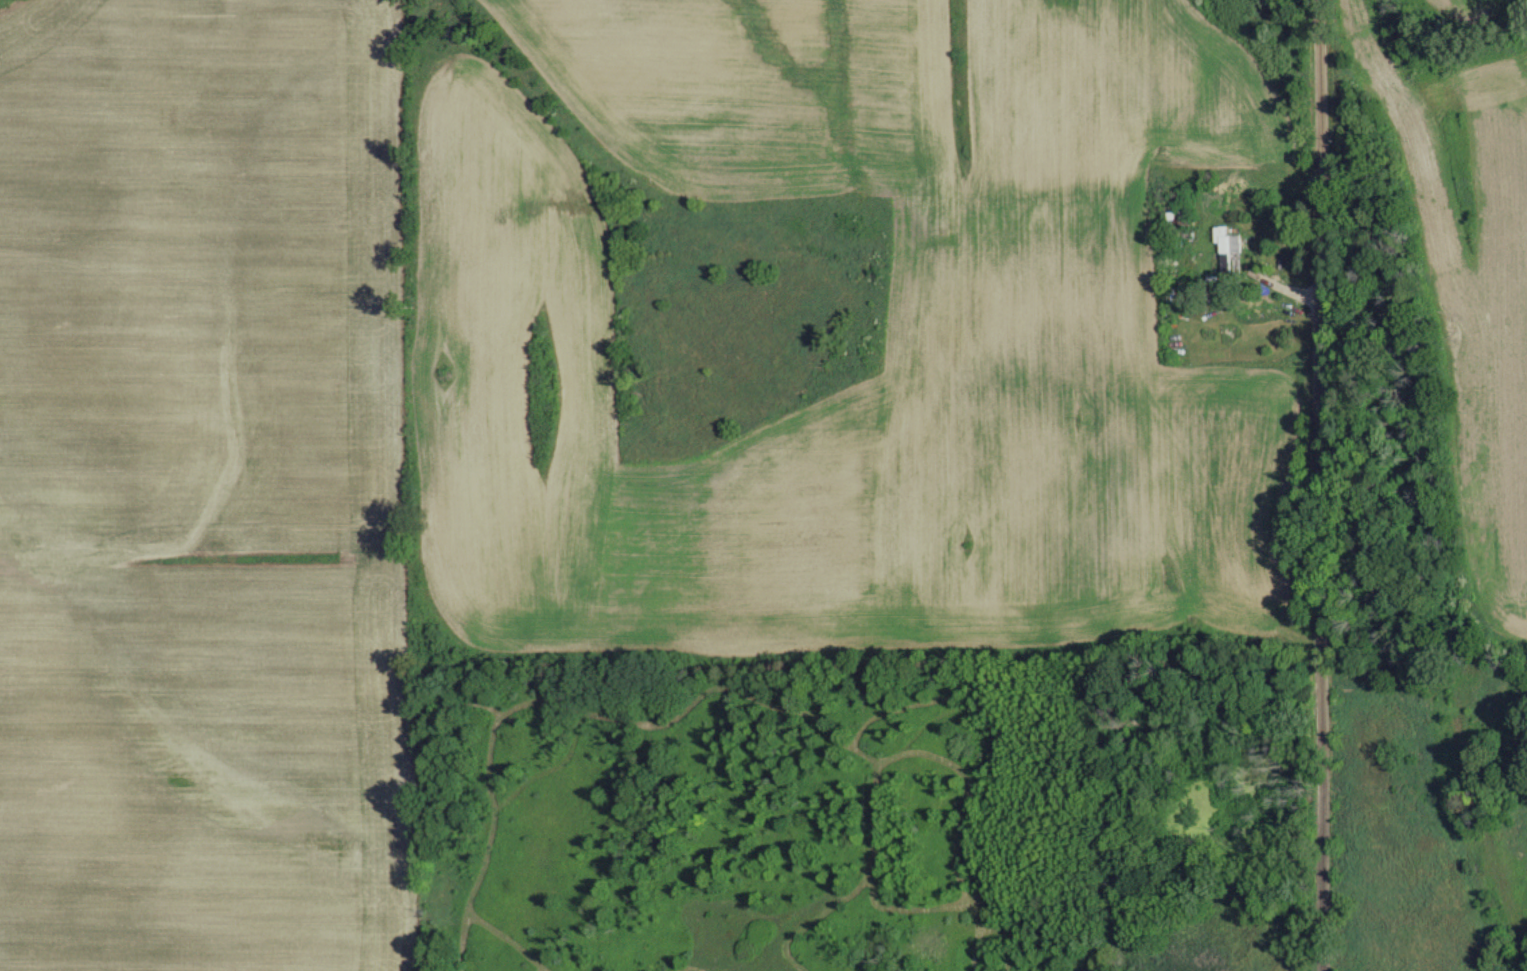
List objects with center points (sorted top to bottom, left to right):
building: (1228, 244)
building: (1251, 312)
road: (1321, 485)

